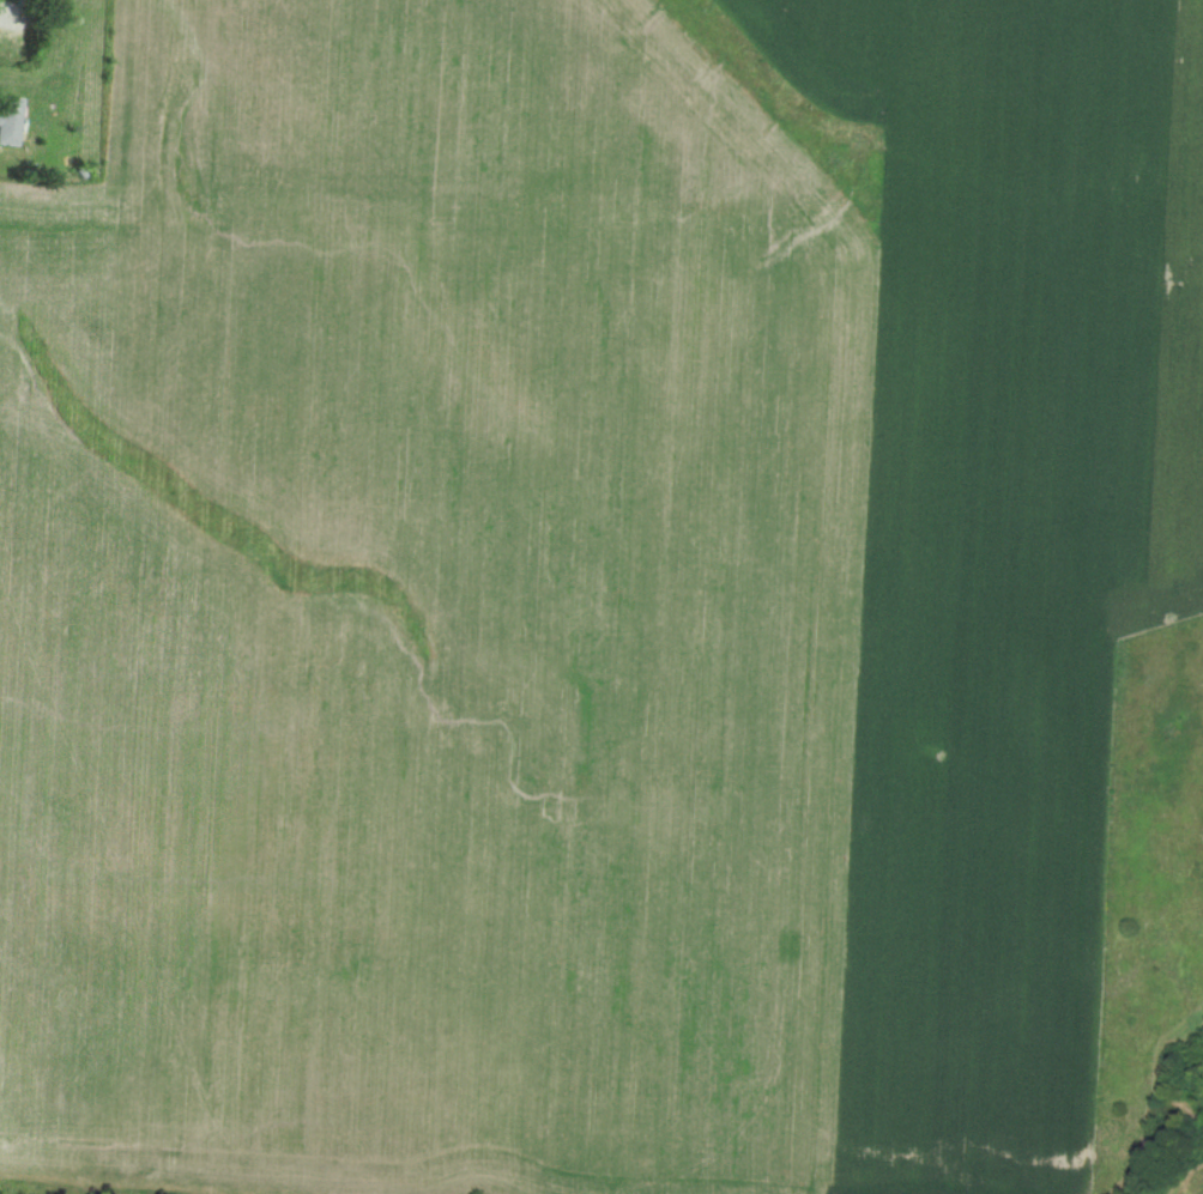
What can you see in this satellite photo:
building: (7, 122)

